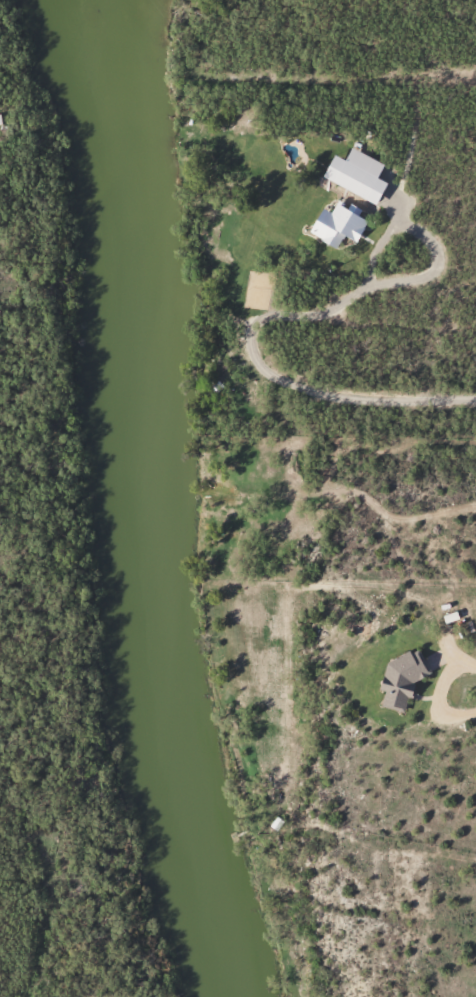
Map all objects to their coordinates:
building: (362, 175)
building: (343, 225)
river: (128, 506)
building: (407, 679)

